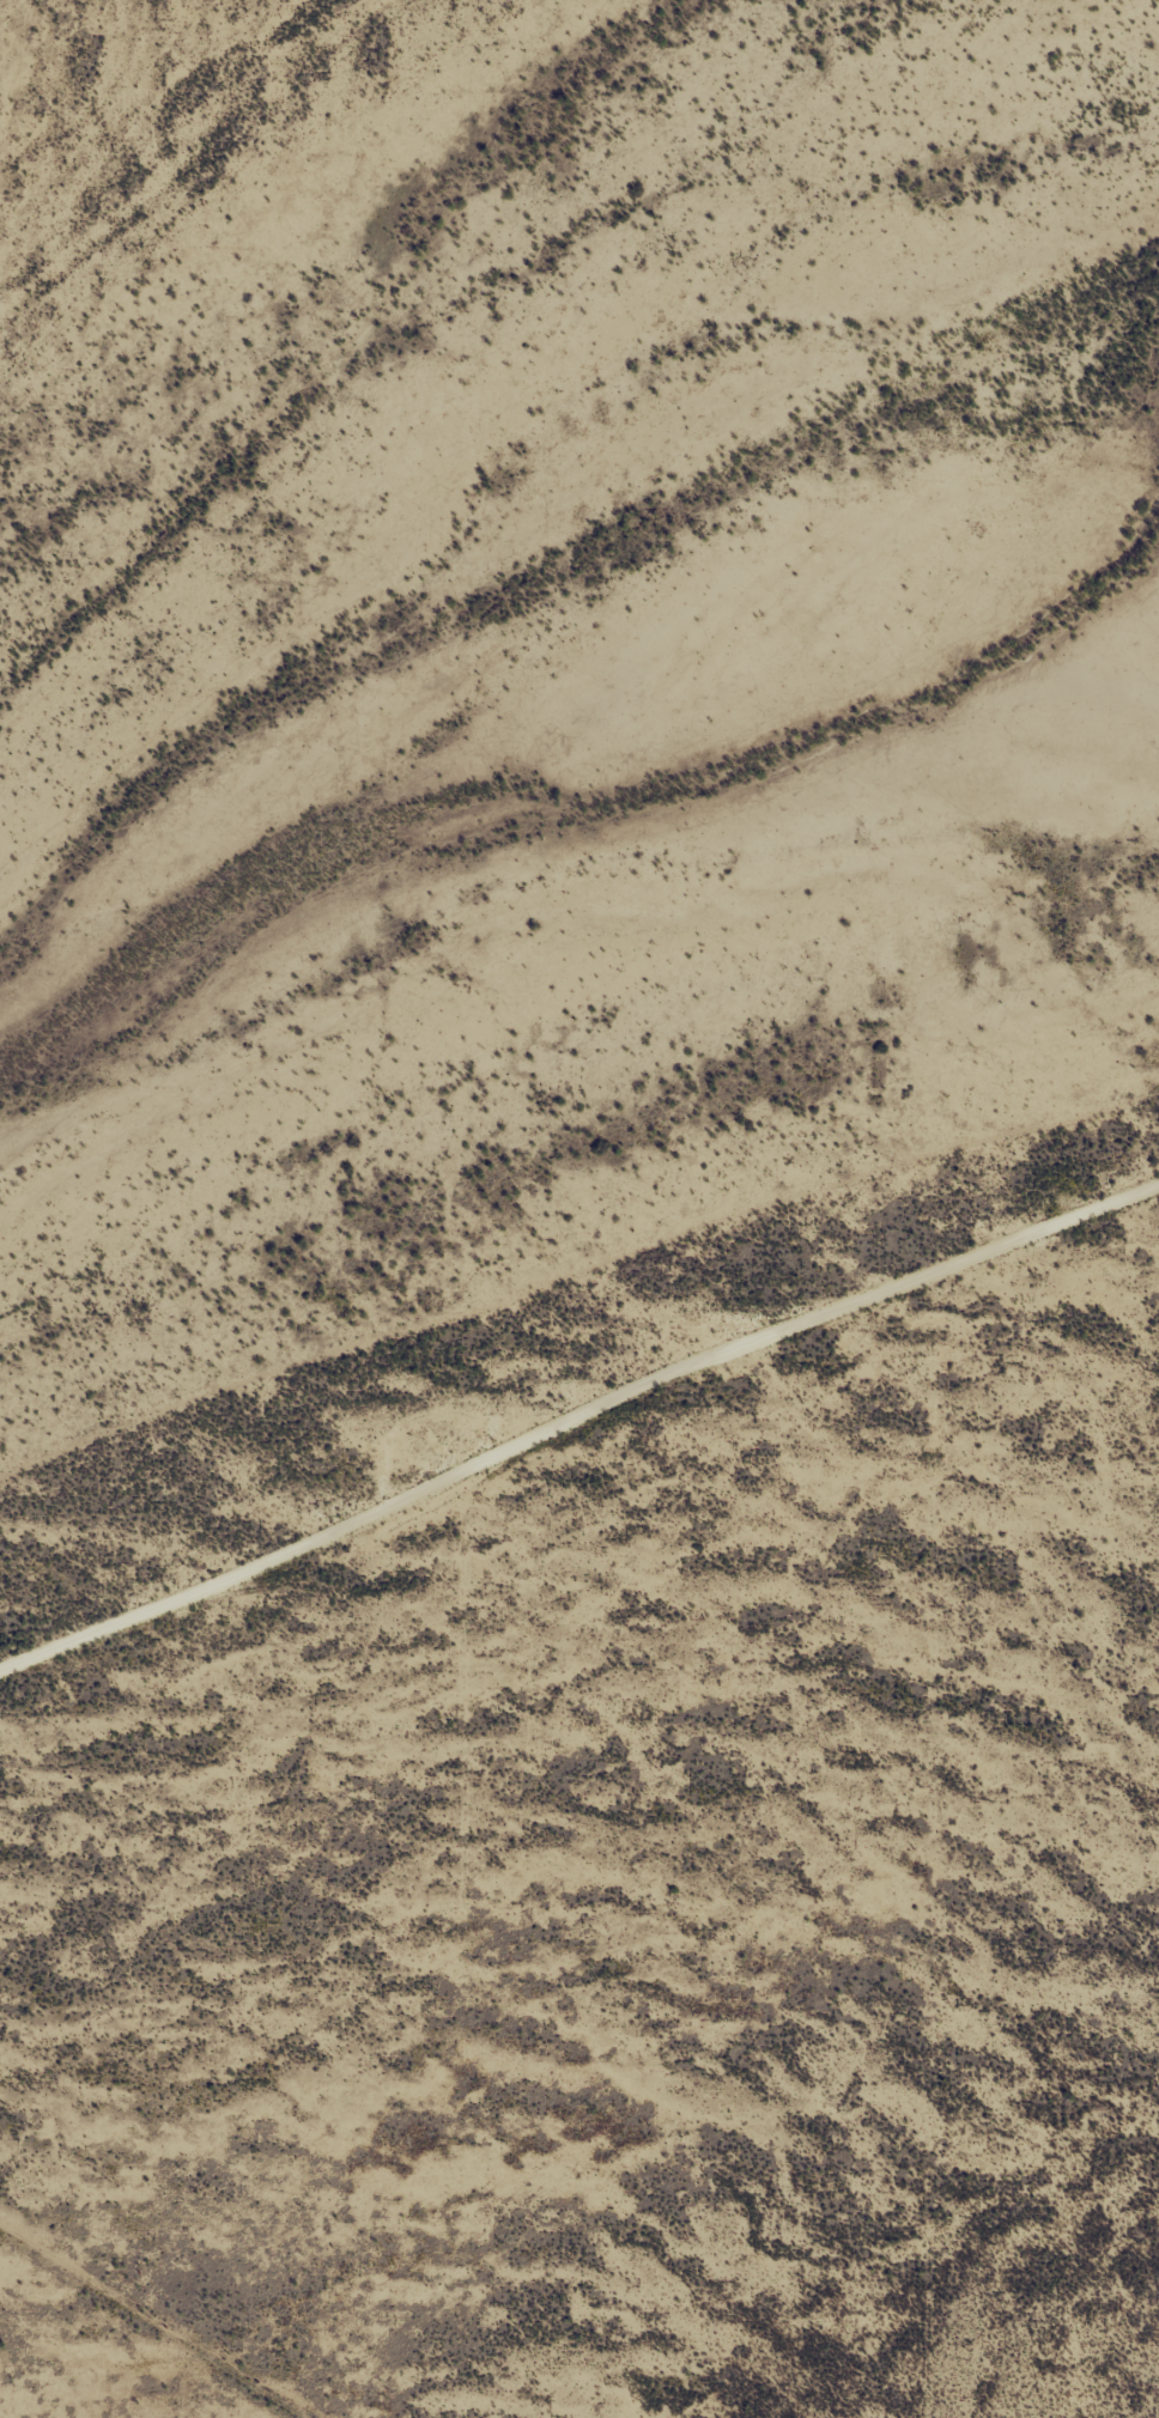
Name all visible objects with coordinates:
road: (206, 2317)

